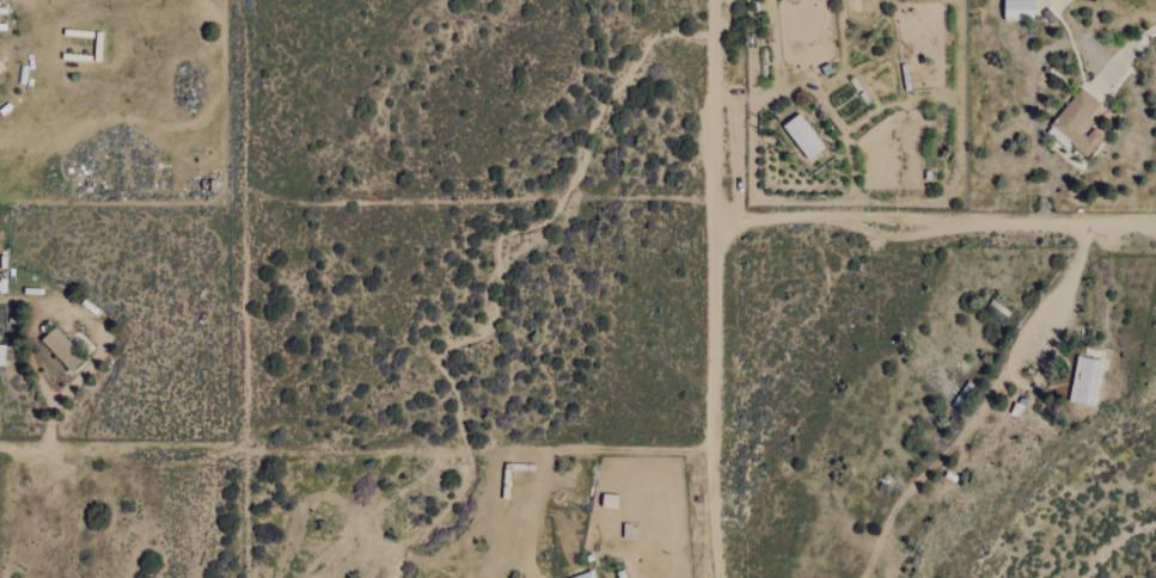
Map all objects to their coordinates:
building: (1019, 8)
road: (1034, 68)
building: (1076, 125)
building: (802, 137)
road: (936, 221)
road: (715, 289)
road: (31, 327)
building: (61, 349)
building: (1085, 381)
road: (984, 406)
road: (45, 432)
building: (586, 576)

